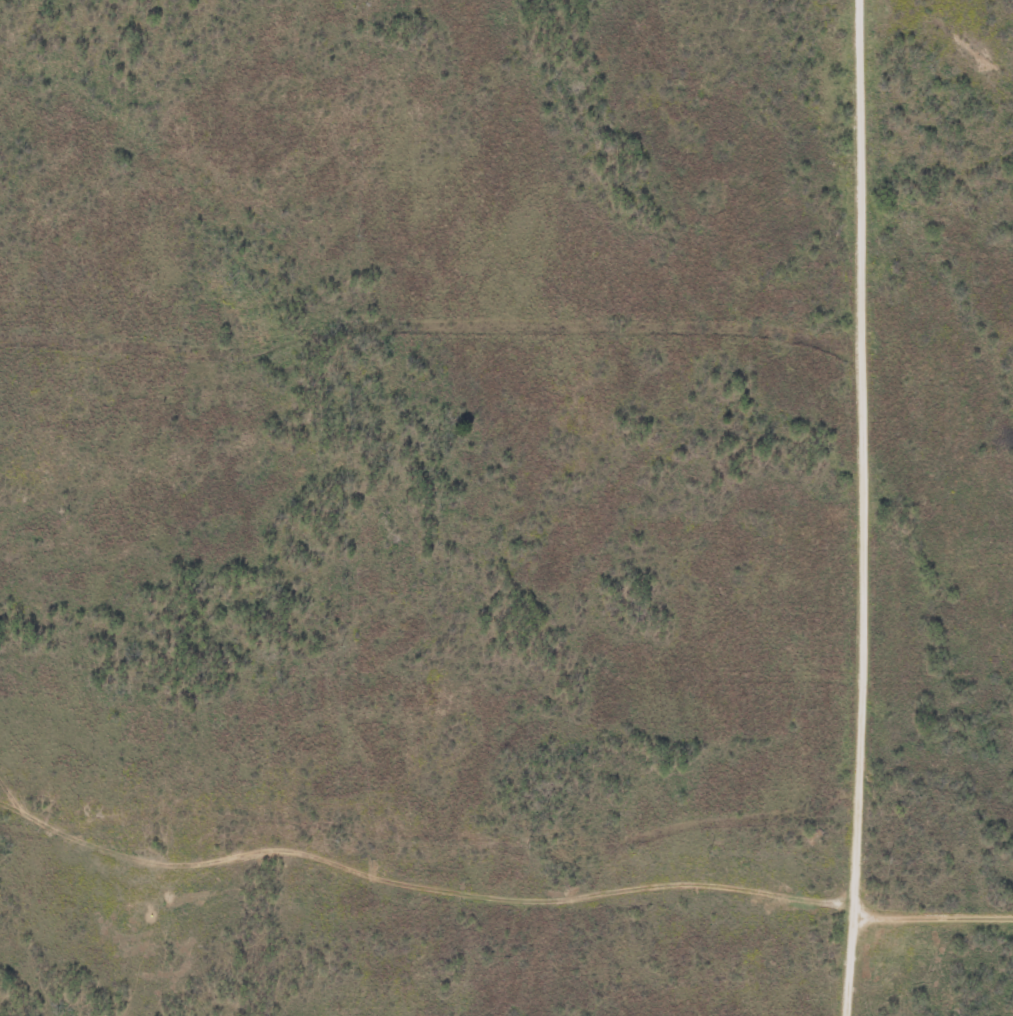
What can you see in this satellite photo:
road: (890, 508)

